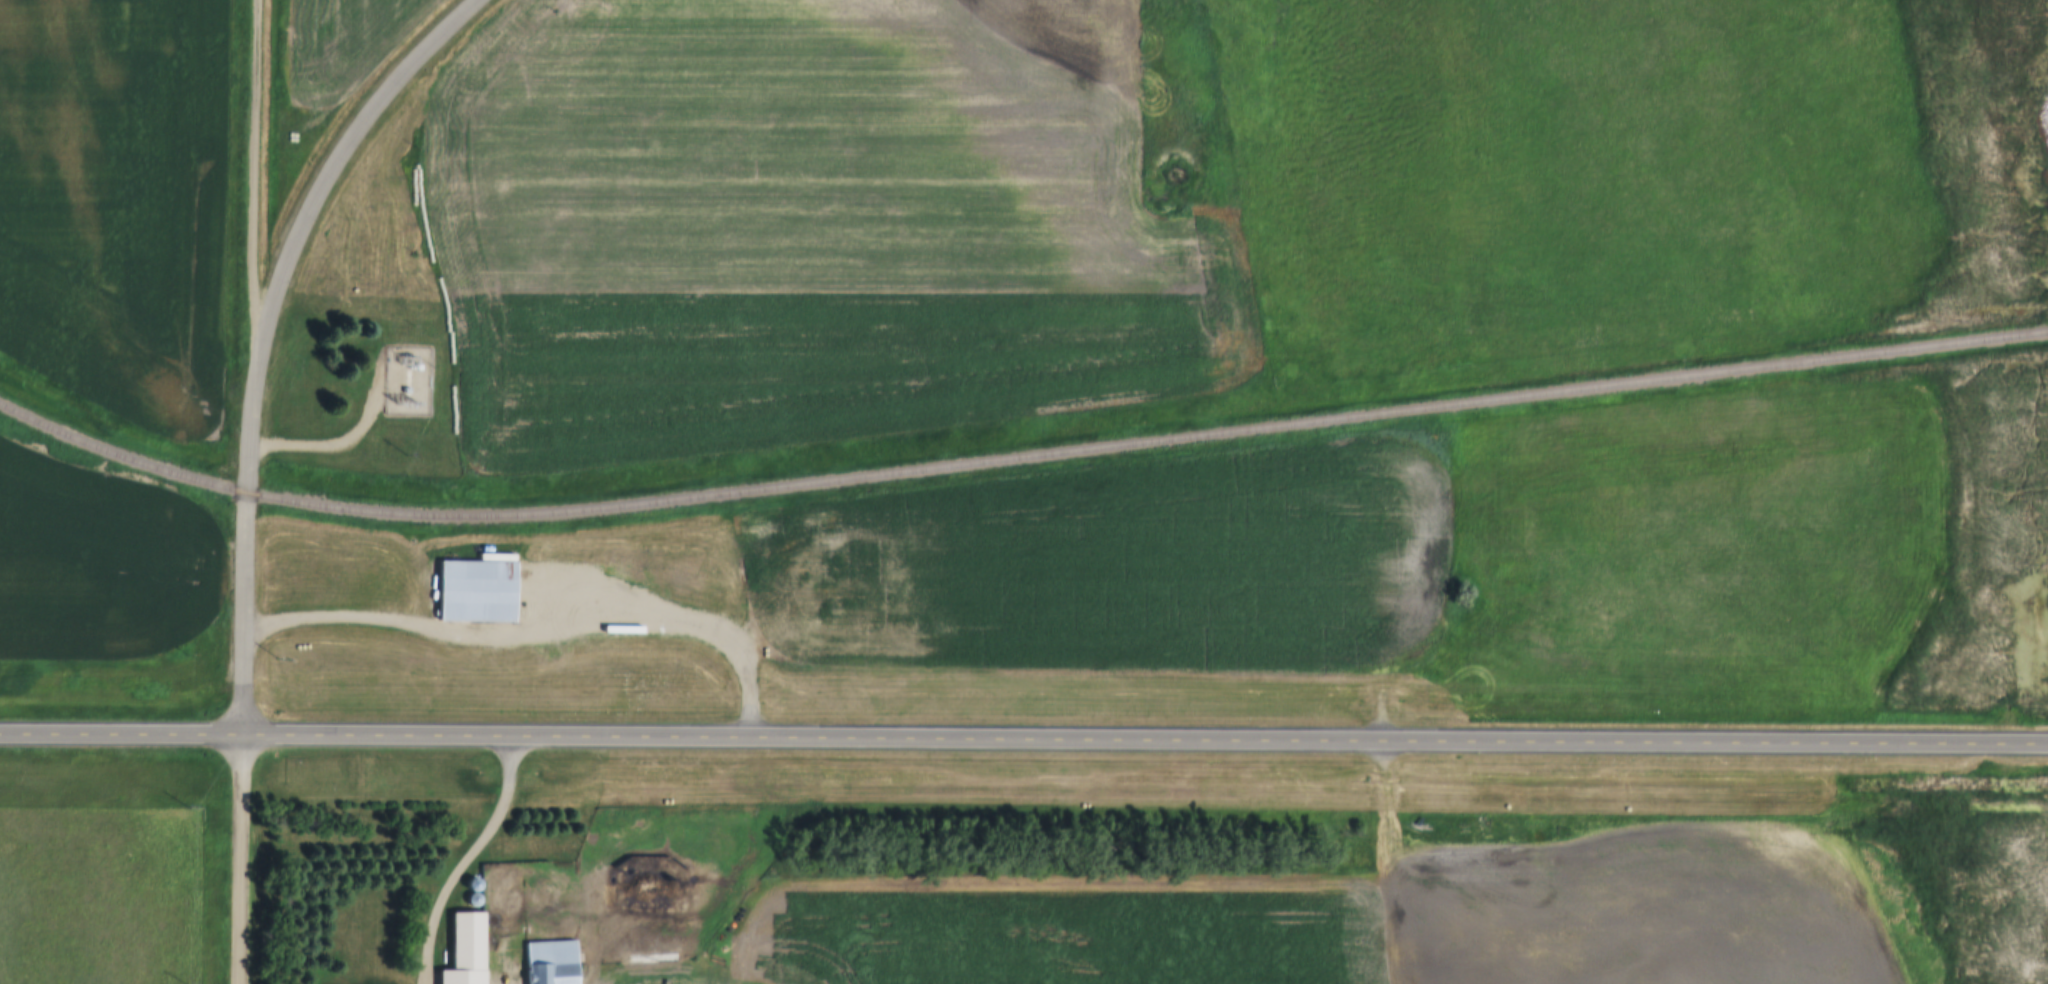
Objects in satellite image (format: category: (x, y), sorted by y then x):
road: (334, 174)
road: (255, 193)
power substation: (407, 379)
road: (336, 442)
railway: (1016, 456)
road: (246, 561)
building: (509, 584)
road: (530, 642)
road: (1023, 741)
road: (241, 860)
road: (471, 860)
building: (476, 883)
silo: (476, 883)
building: (478, 899)
silo: (478, 899)
building: (470, 958)
building: (554, 962)

